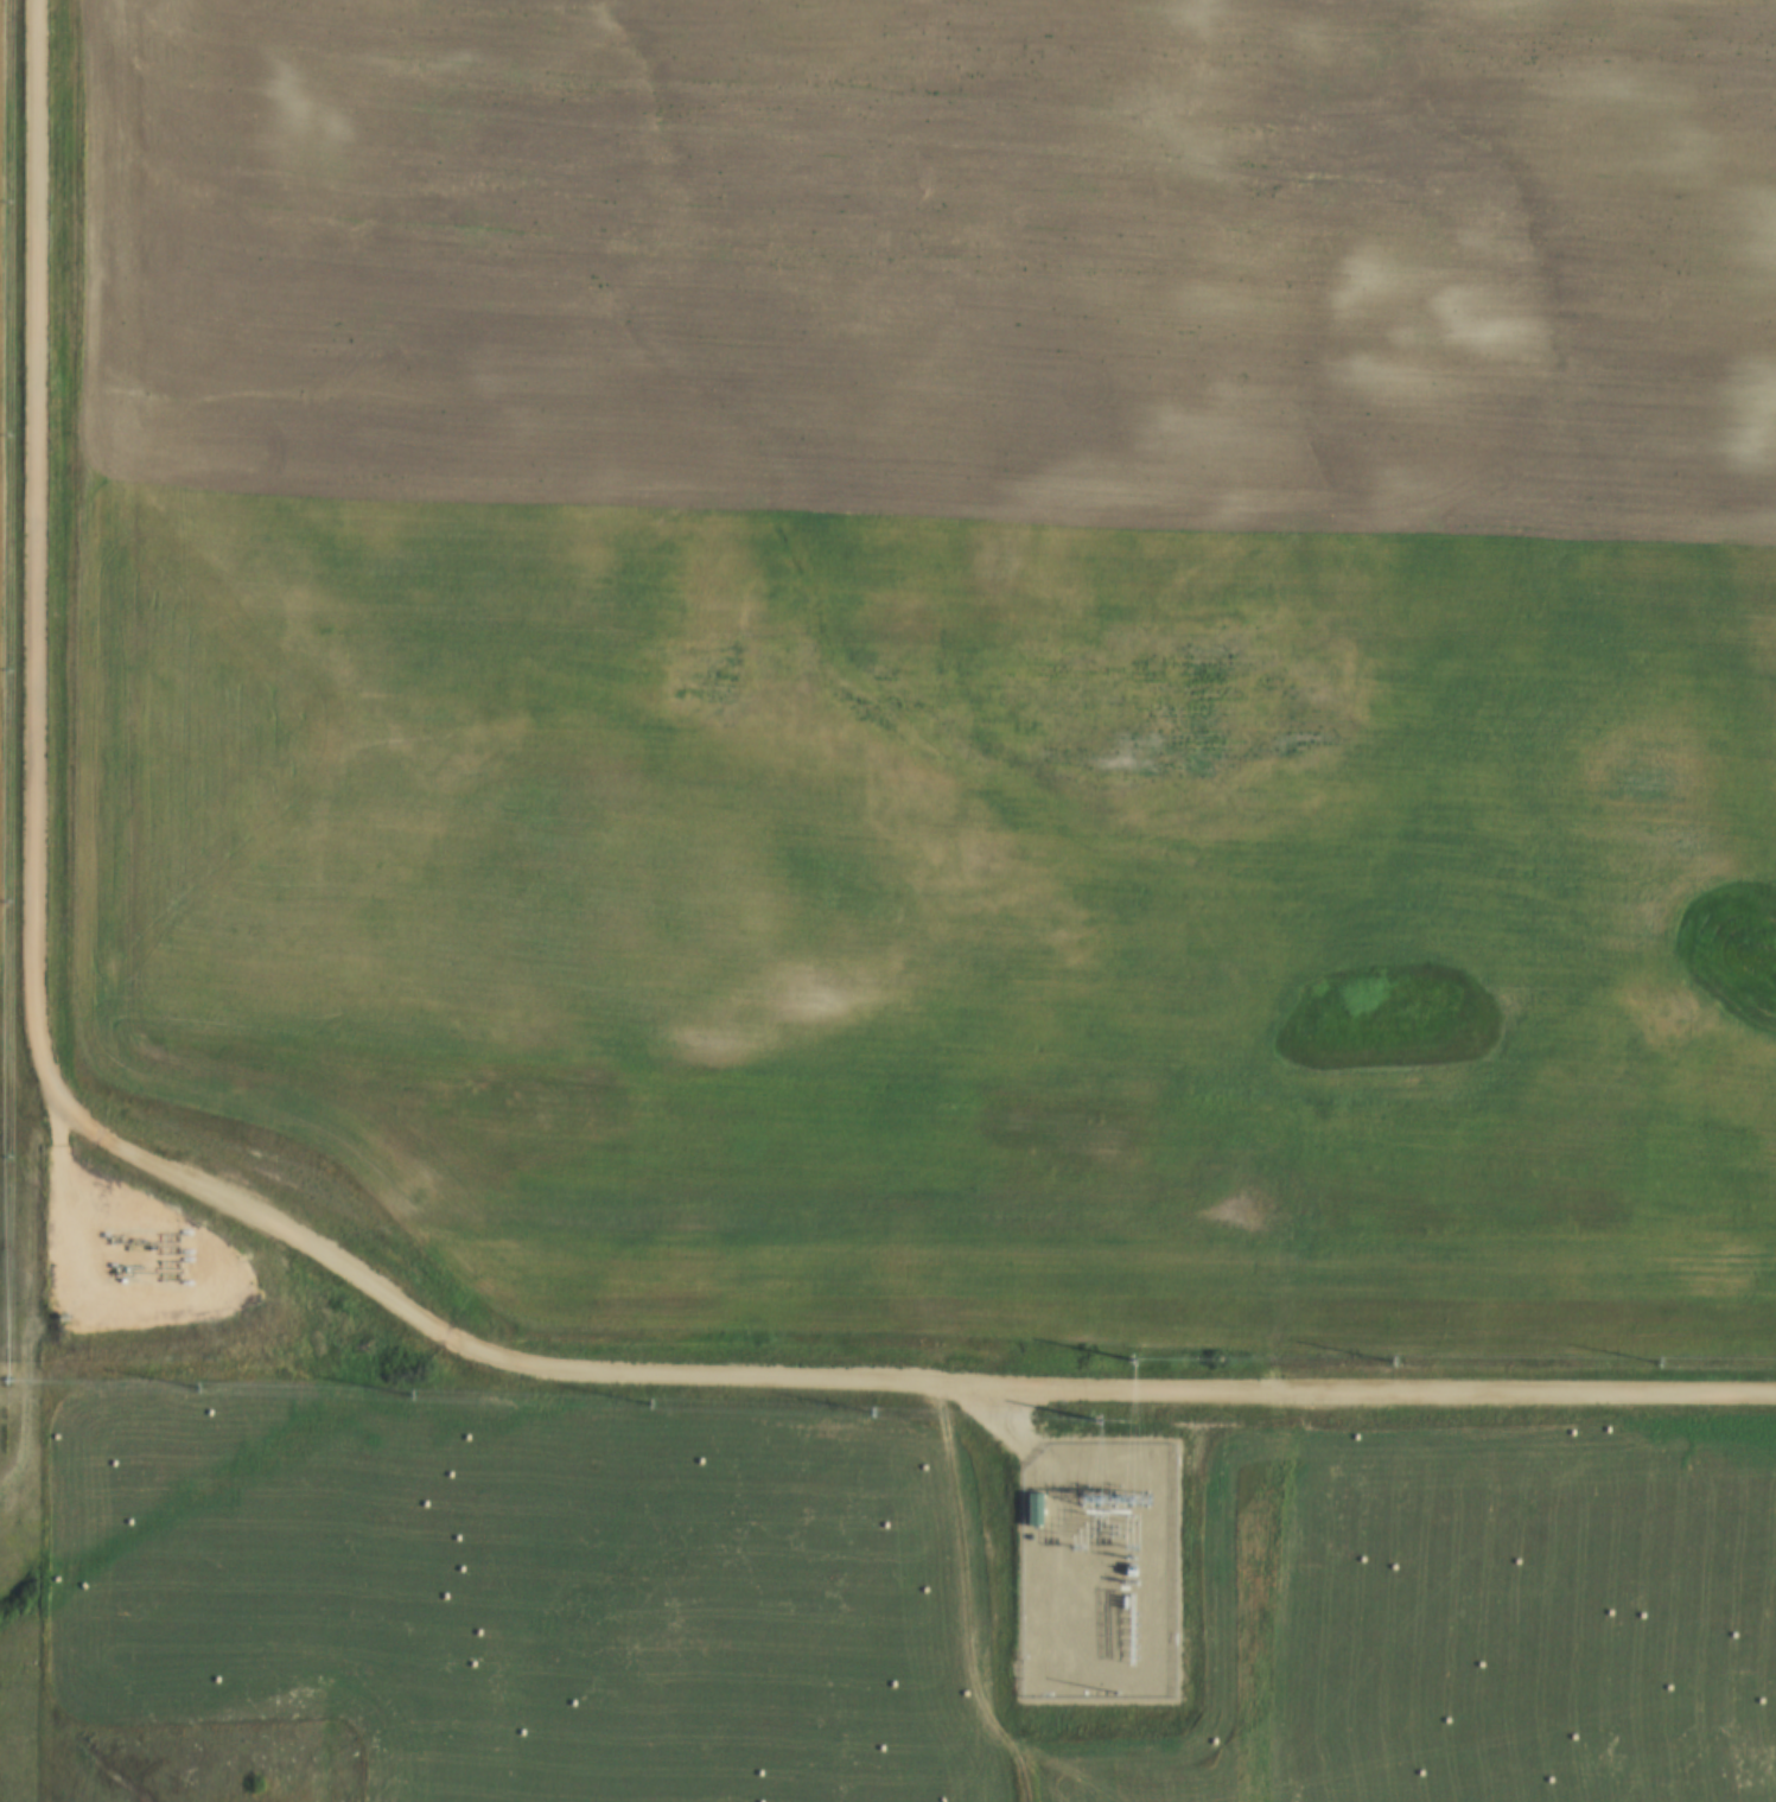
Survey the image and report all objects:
road: (43, 1198)
road: (365, 1250)
road: (1071, 1478)
building: (1029, 1511)

